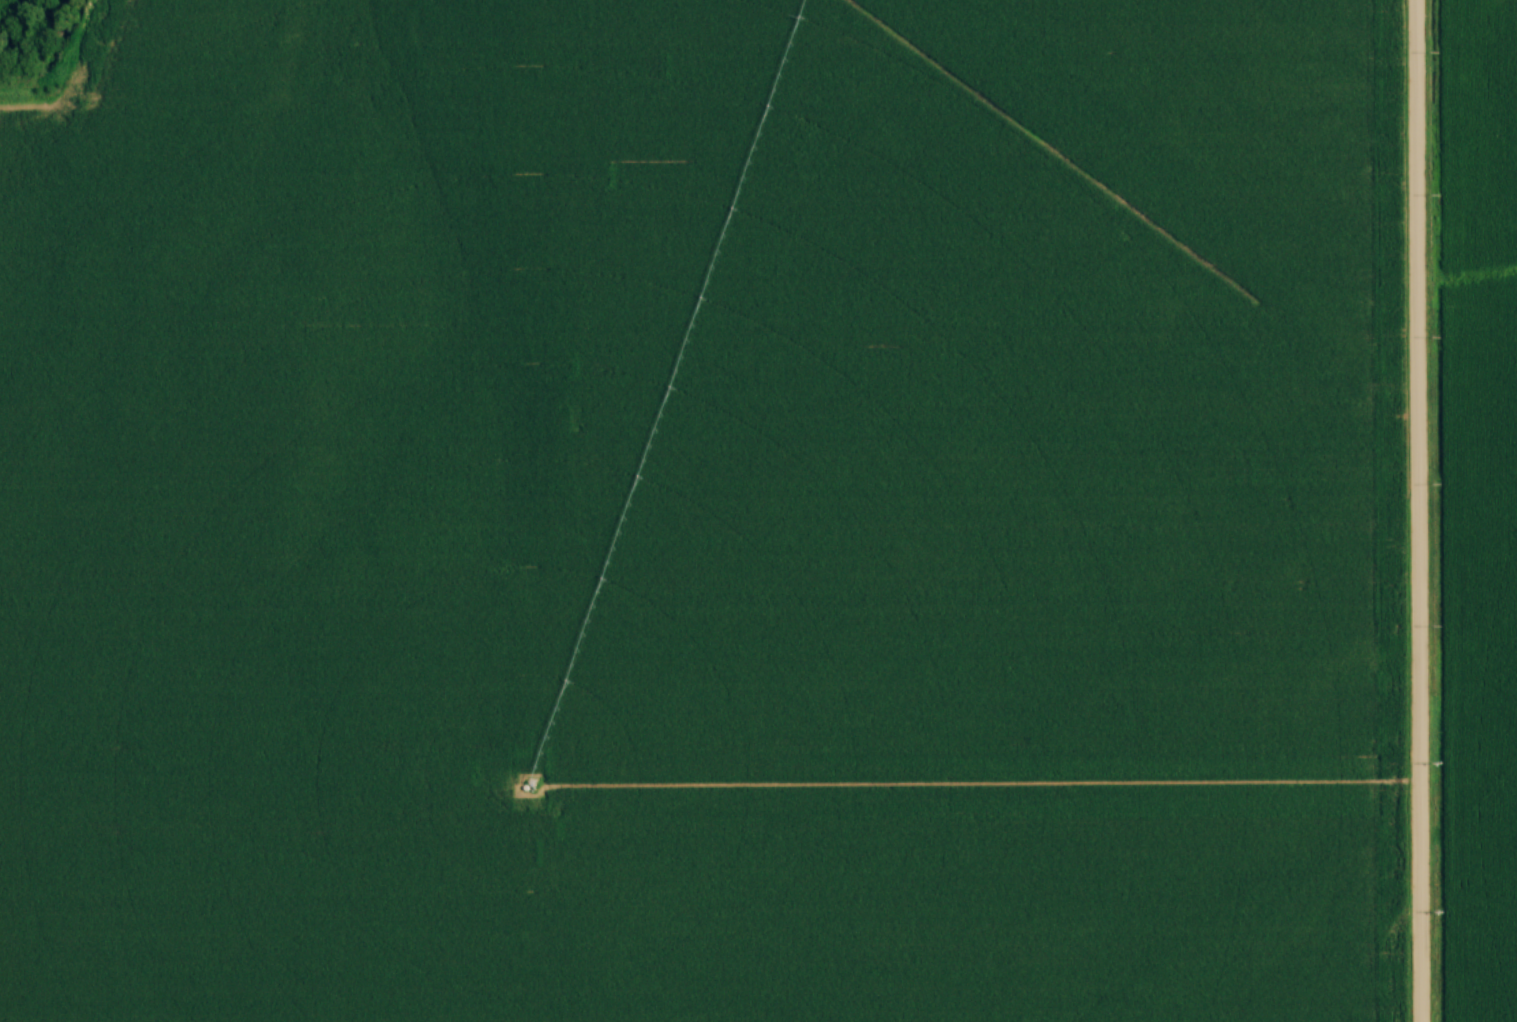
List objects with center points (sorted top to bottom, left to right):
road: (1418, 510)

